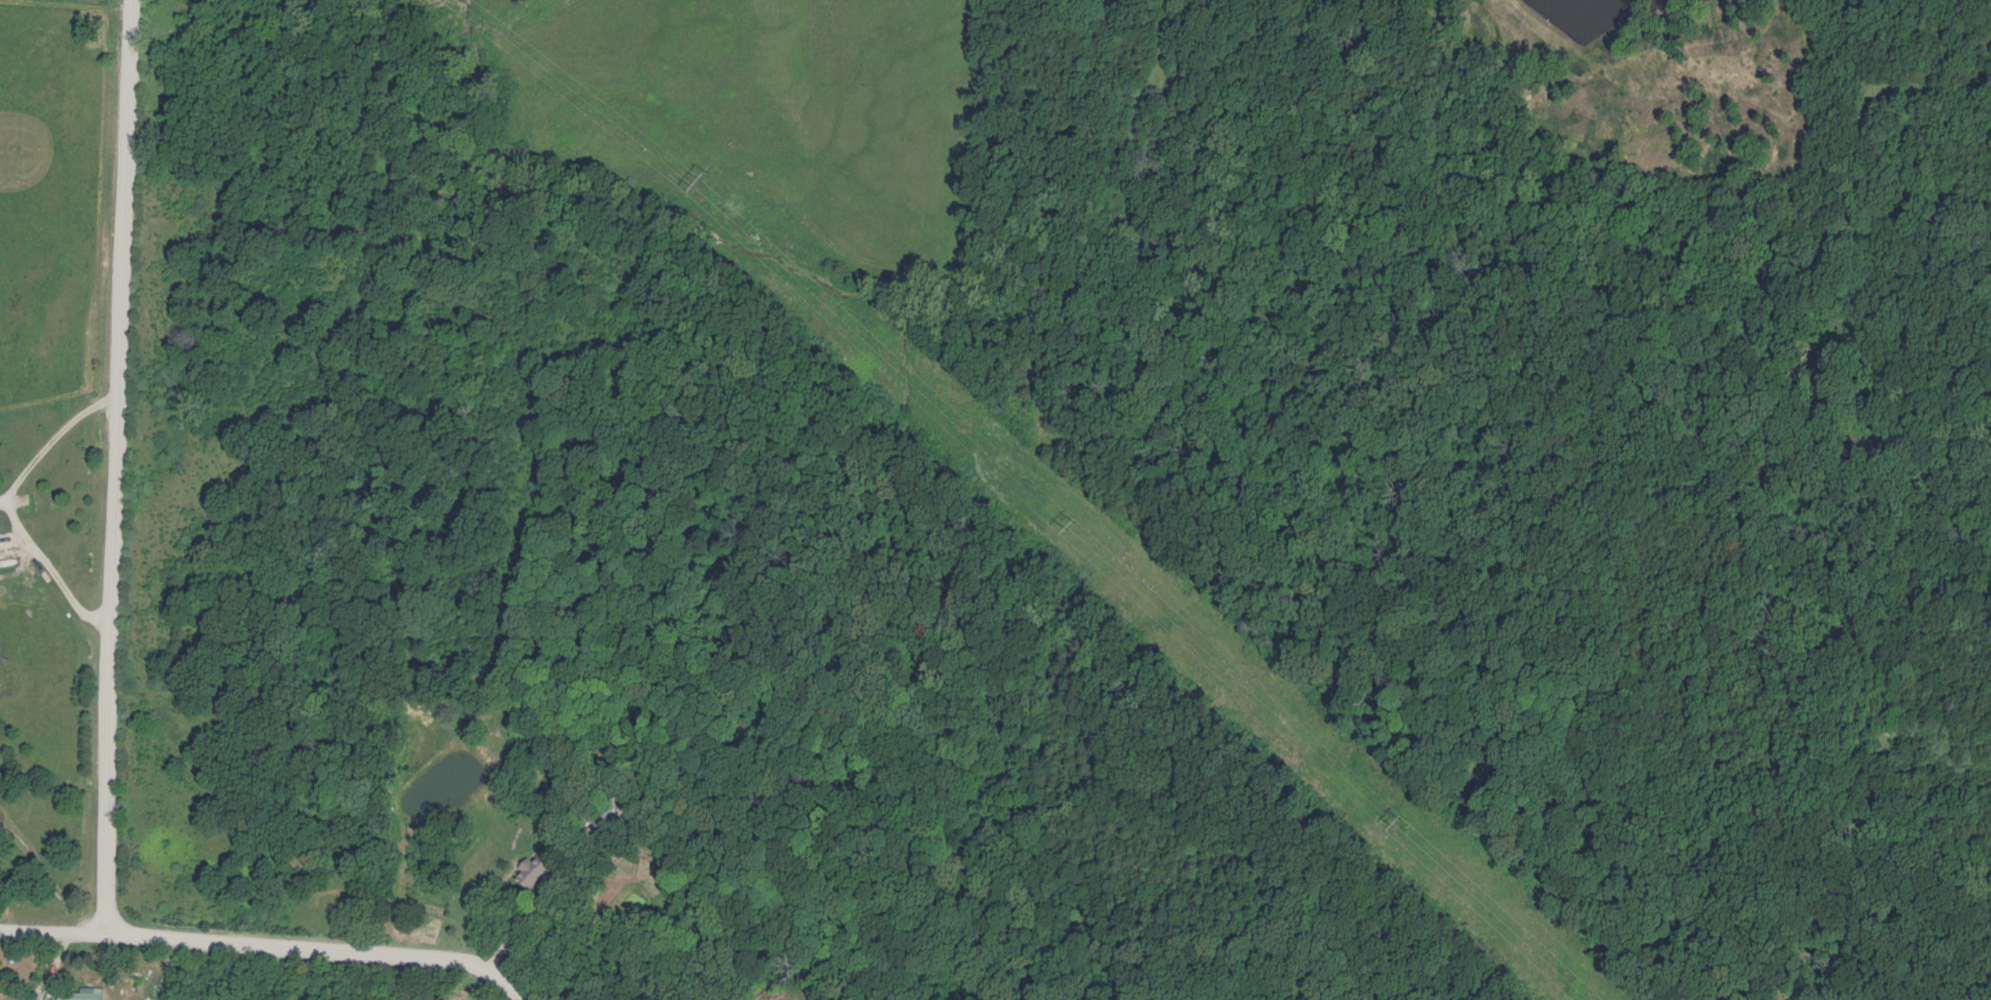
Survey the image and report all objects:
power tower: (698, 180)
road: (114, 467)
road: (6, 503)
power tower: (1070, 525)
building: (601, 818)
power tower: (1395, 822)
building: (529, 872)
road: (525, 916)
road: (268, 946)
building: (83, 995)

